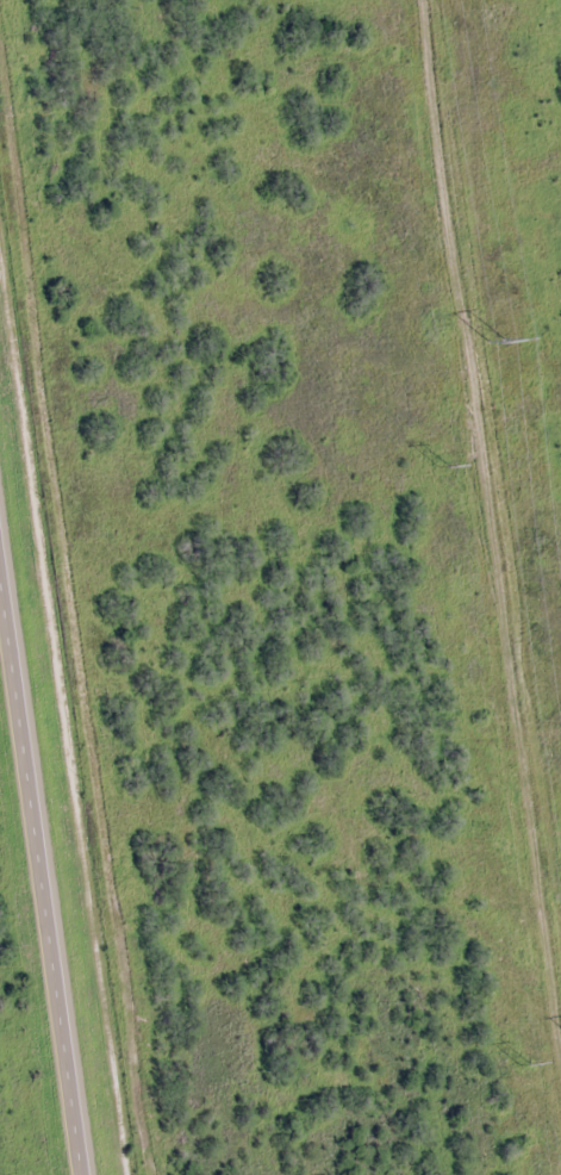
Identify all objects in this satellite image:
power tower: (495, 344)
power tower: (441, 465)
road: (42, 863)
power tower: (524, 1062)

